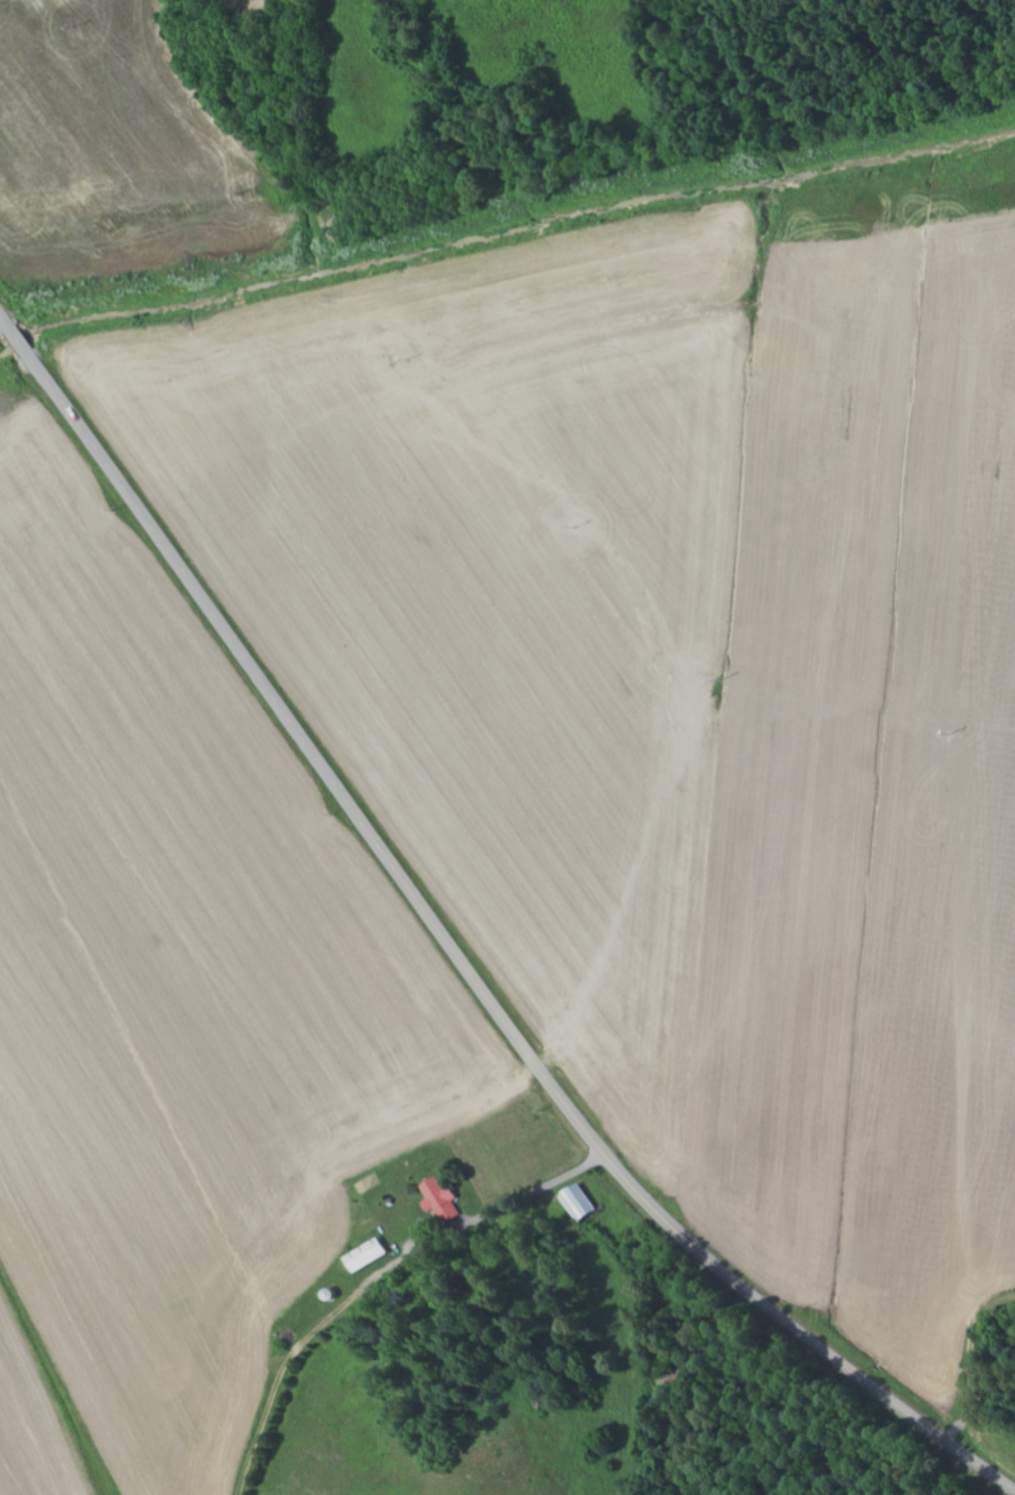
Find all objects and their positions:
road: (414, 6)
road: (390, 856)
road: (517, 1199)
building: (581, 1203)
building: (367, 1255)
road: (926, 1414)

